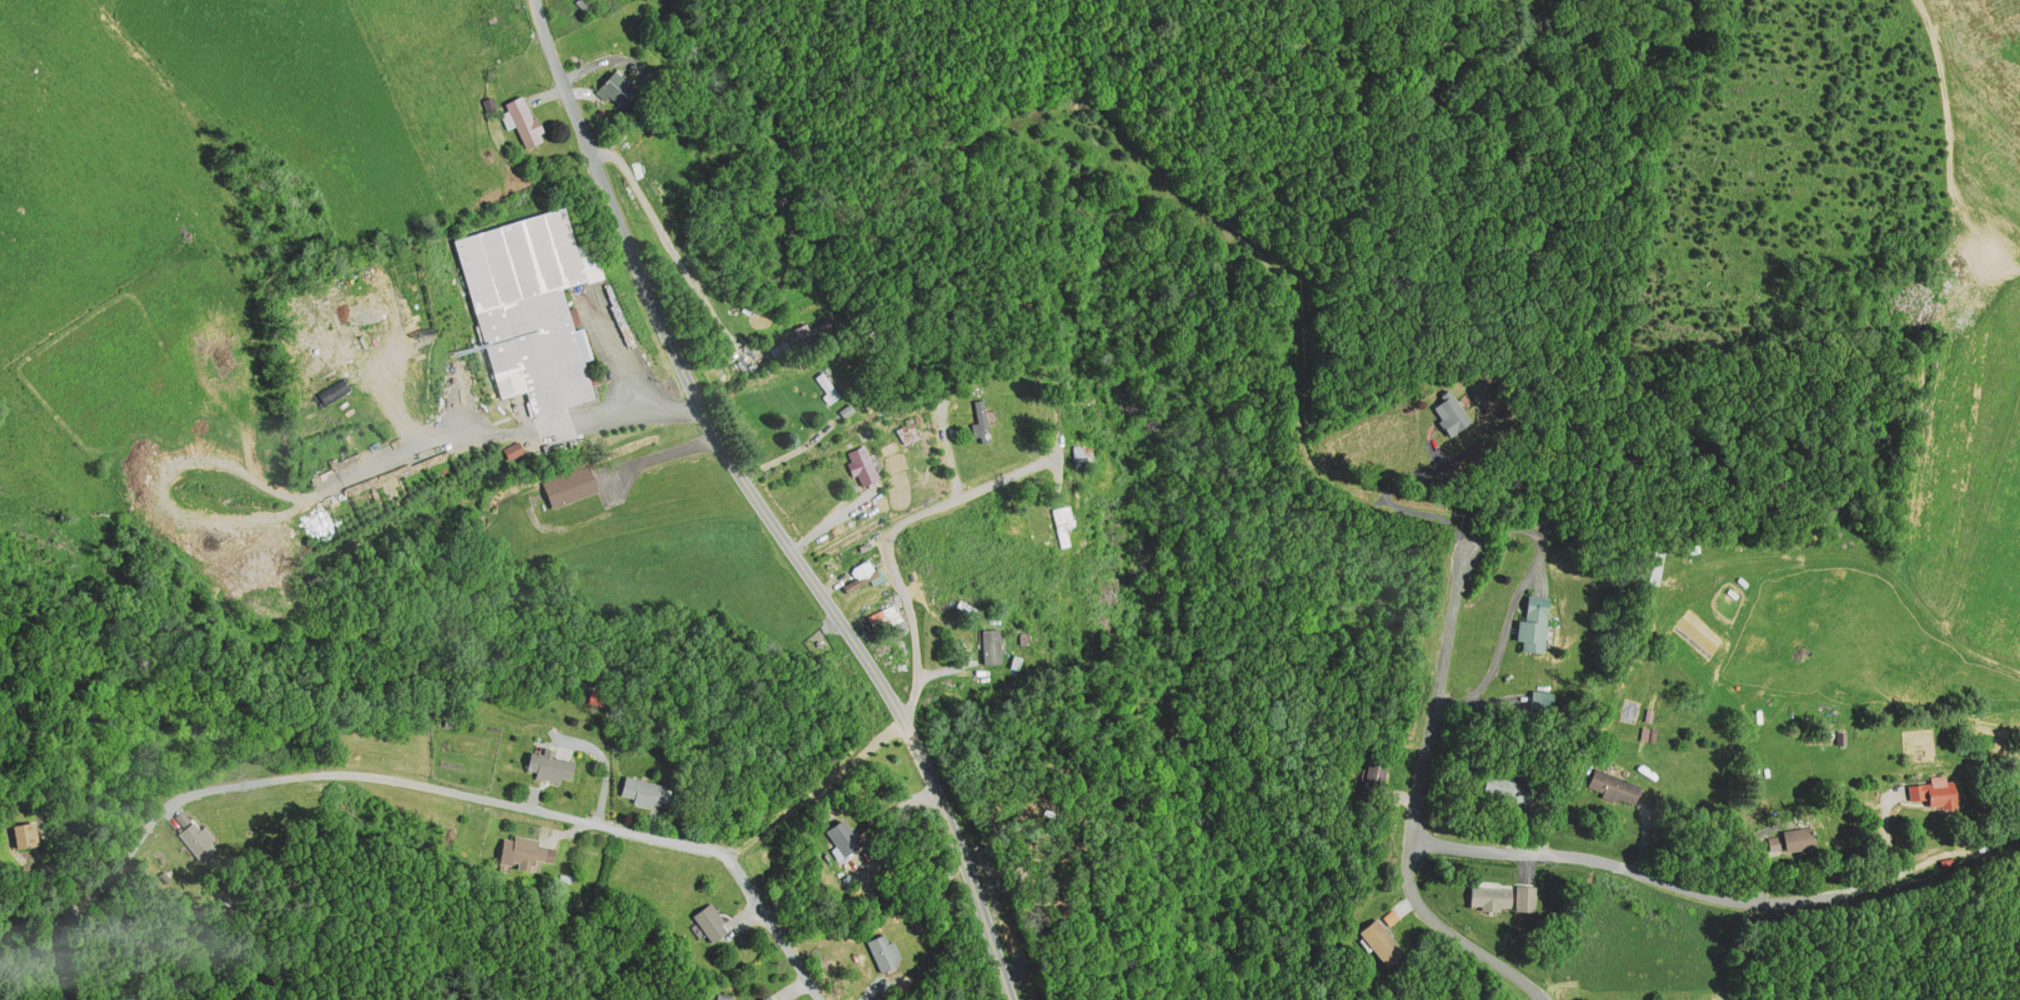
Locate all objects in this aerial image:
building: (615, 89)
building: (523, 121)
building: (1236, 207)
building: (1230, 261)
road: (1055, 292)
building: (529, 308)
building: (810, 332)
road: (685, 377)
building: (826, 385)
building: (1452, 412)
building: (981, 420)
building: (1079, 451)
building: (861, 463)
building: (570, 485)
building: (1063, 523)
building: (1658, 565)
building: (861, 573)
road: (903, 589)
building: (886, 620)
building: (1536, 624)
building: (990, 646)
park: (217, 686)
building: (1542, 700)
road: (905, 731)
building: (1842, 736)
building: (548, 765)
road: (323, 771)
building: (1374, 773)
building: (1614, 785)
building: (1508, 788)
building: (641, 789)
building: (1935, 792)
road: (809, 795)
road: (1413, 807)
building: (30, 834)
building: (843, 835)
building: (1800, 837)
building: (195, 839)
building: (522, 852)
road: (967, 868)
road: (1715, 895)
building: (1490, 896)
building: (1525, 897)
building: (709, 919)
road: (765, 922)
building: (1381, 942)
building: (883, 949)
building: (775, 997)
building: (764, 998)

